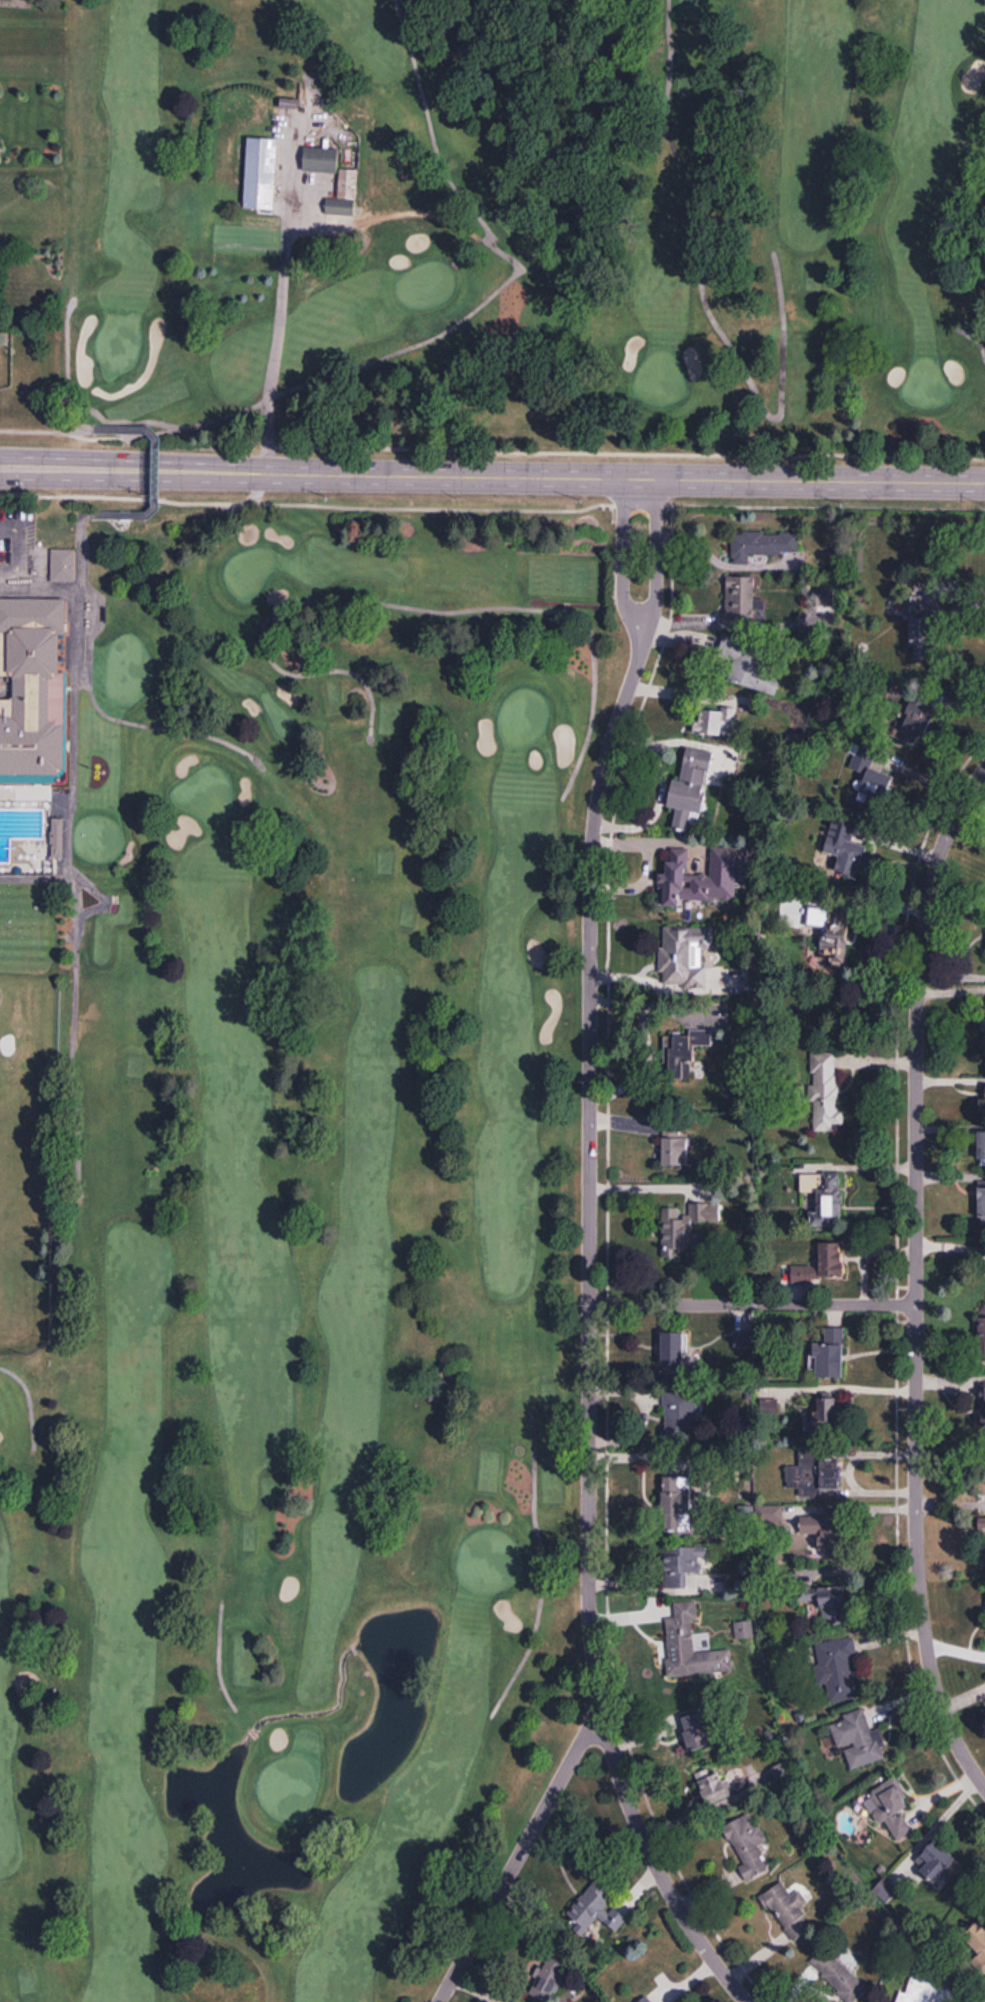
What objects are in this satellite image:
building: (288, 102)
building: (319, 159)
building: (258, 173)
building: (346, 182)
building: (339, 206)
park: (497, 235)
road: (286, 240)
road: (517, 263)
road: (703, 301)
road: (66, 369)
road: (492, 474)
road: (4, 541)
building: (760, 543)
road: (617, 549)
road: (651, 549)
road: (720, 562)
building: (64, 567)
road: (924, 591)
road: (974, 595)
building: (823, 596)
road: (417, 598)
building: (741, 600)
building: (909, 604)
road: (727, 621)
road: (669, 637)
building: (920, 637)
building: (745, 664)
building: (22, 684)
road: (683, 692)
road: (149, 720)
building: (713, 723)
road: (56, 734)
building: (871, 786)
road: (657, 787)
building: (689, 789)
road: (631, 839)
building: (58, 840)
building: (846, 855)
building: (698, 878)
road: (631, 881)
road: (76, 896)
road: (80, 928)
building: (835, 949)
building: (684, 957)
building: (681, 1052)
road: (70, 1056)
building: (824, 1092)
building: (982, 1106)
building: (673, 1146)
building: (982, 1148)
building: (824, 1191)
building: (981, 1202)
building: (681, 1226)
park: (301, 1249)
building: (821, 1267)
road: (916, 1279)
road: (752, 1305)
building: (982, 1312)
road: (589, 1323)
building: (670, 1348)
building: (829, 1355)
building: (439, 1387)
road: (28, 1401)
building: (982, 1405)
building: (680, 1412)
road: (645, 1413)
building: (829, 1416)
building: (815, 1475)
building: (674, 1501)
building: (982, 1538)
road: (71, 1543)
building: (679, 1563)
road: (541, 1569)
building: (832, 1607)
building: (745, 1632)
building: (688, 1643)
road: (218, 1658)
building: (834, 1671)
building: (768, 1720)
building: (696, 1727)
building: (856, 1738)
building: (784, 1770)
building: (713, 1784)
building: (895, 1808)
building: (743, 1841)
road: (519, 1854)
building: (937, 1862)
building: (592, 1906)
building: (783, 1907)
building: (977, 1944)
building: (836, 1973)
building: (548, 1977)
building: (925, 1991)
building: (642, 1999)
building: (984, 1999)
building: (648, 2000)

